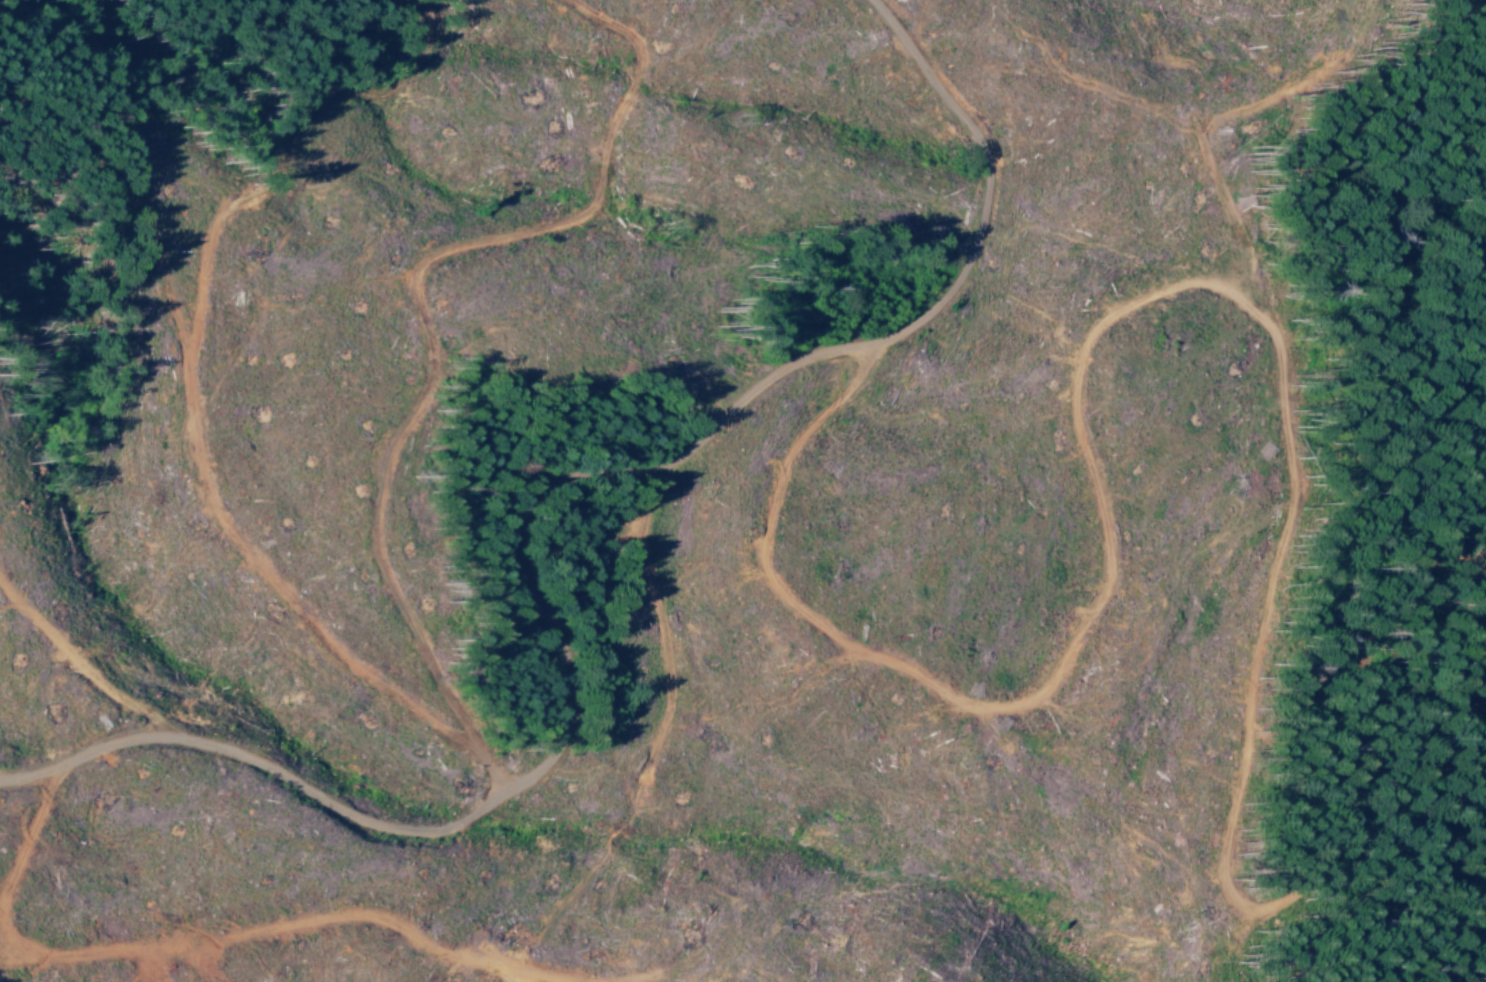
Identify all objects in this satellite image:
road: (530, 525)
road: (881, 691)

